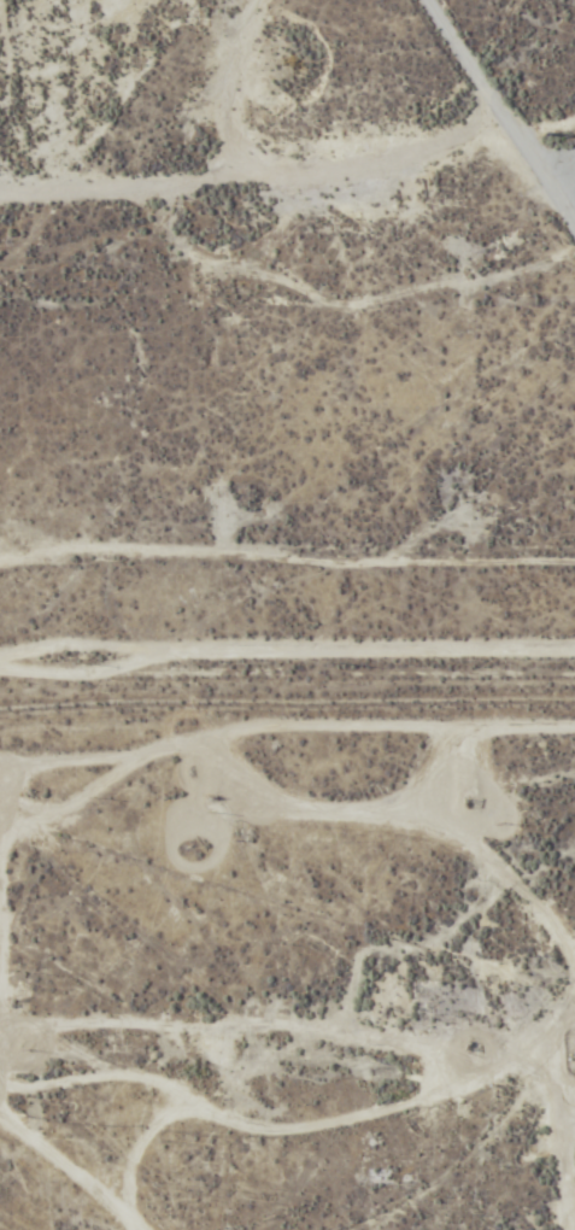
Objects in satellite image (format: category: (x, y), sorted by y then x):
road: (505, 109)
road: (287, 664)

